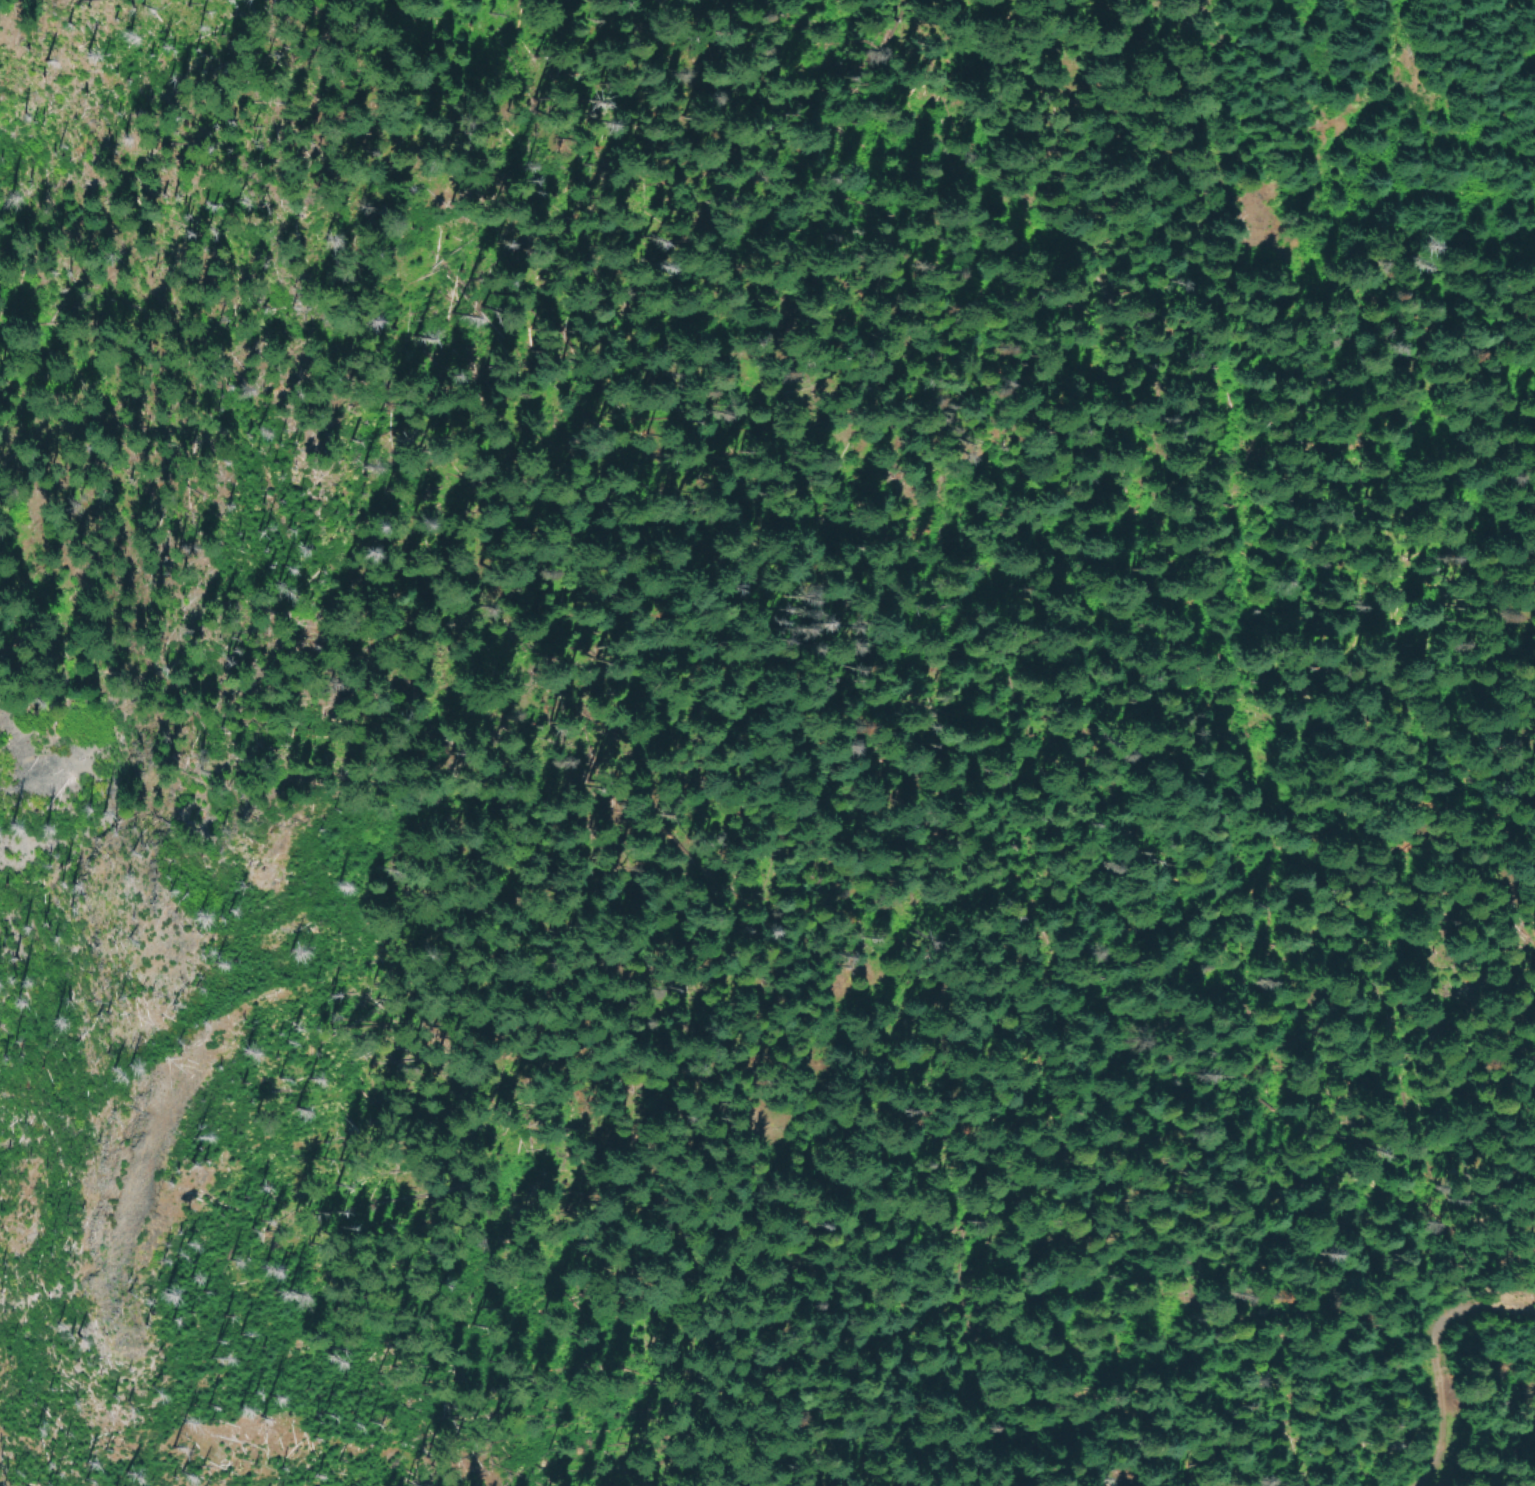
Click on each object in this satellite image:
road: (1447, 1366)

